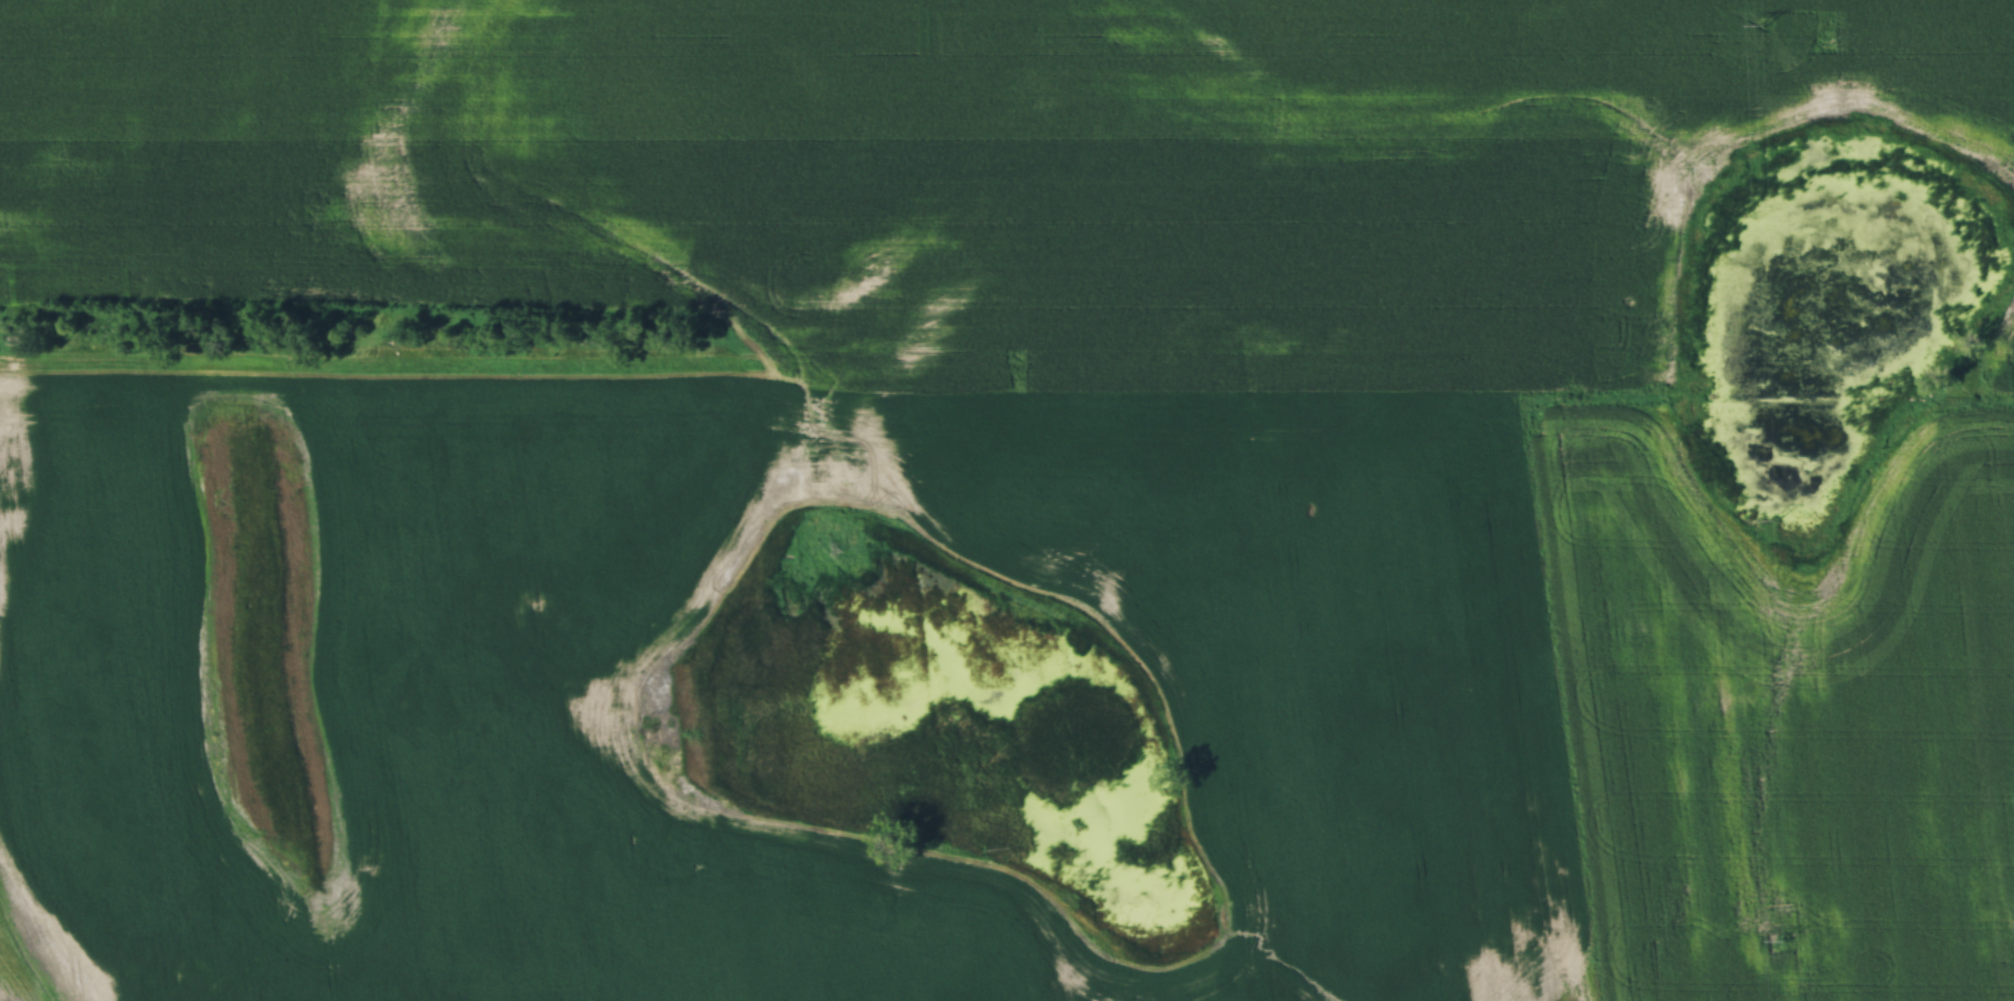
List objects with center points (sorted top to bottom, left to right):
power tower: (1764, 25)
power tower: (1773, 522)
power tower: (1783, 941)

